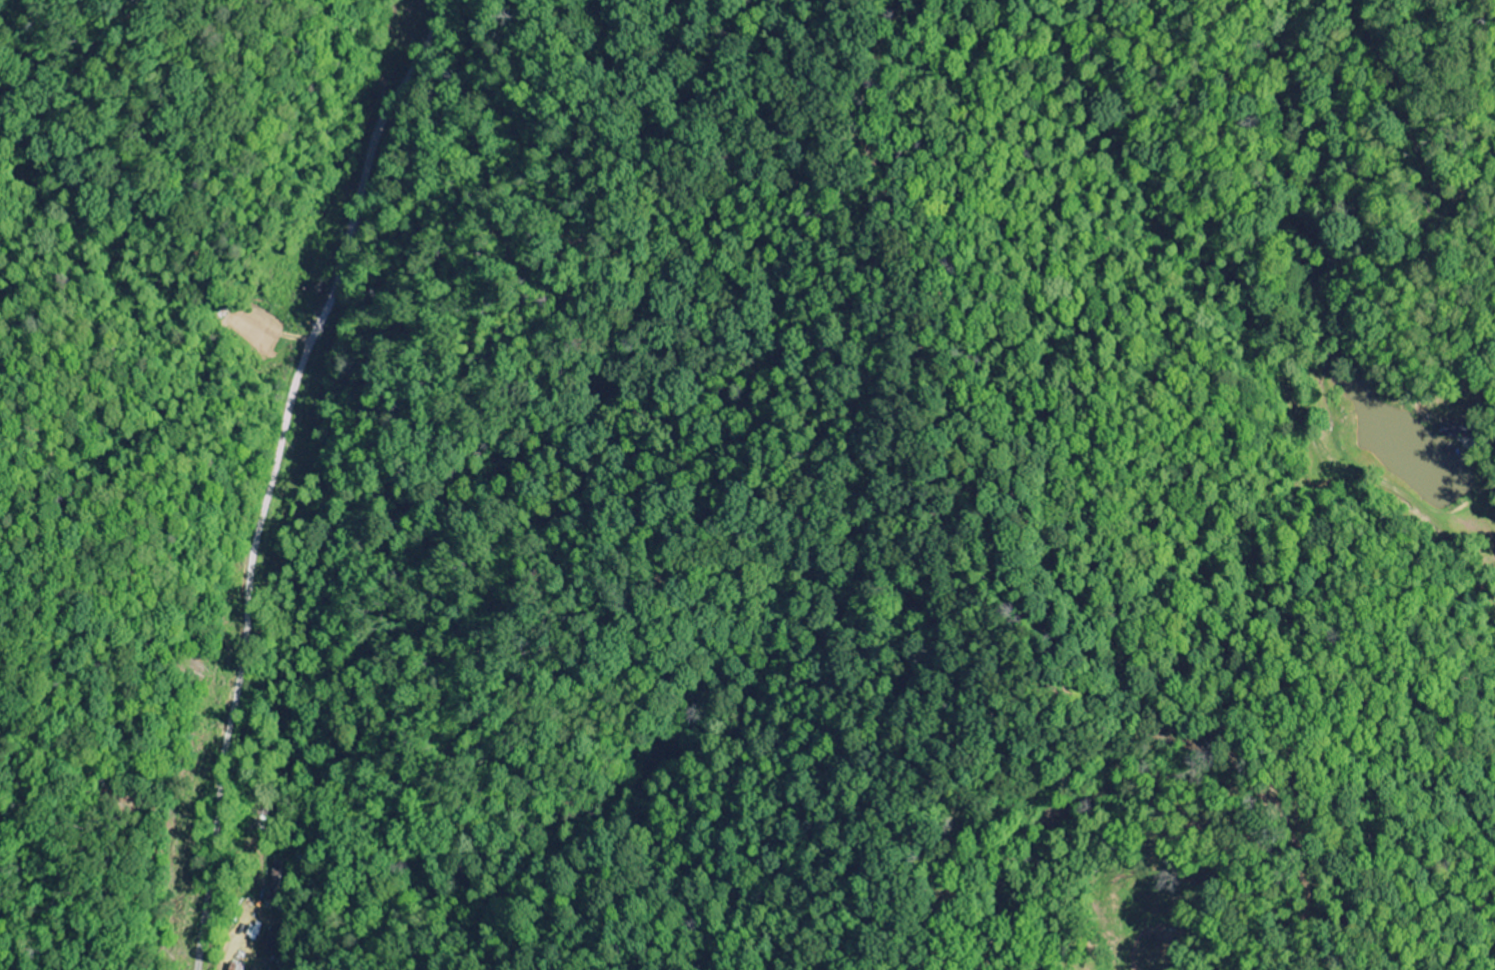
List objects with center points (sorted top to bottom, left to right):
building: (1449, 429)
road: (274, 471)
road: (5, 963)
building: (232, 968)

